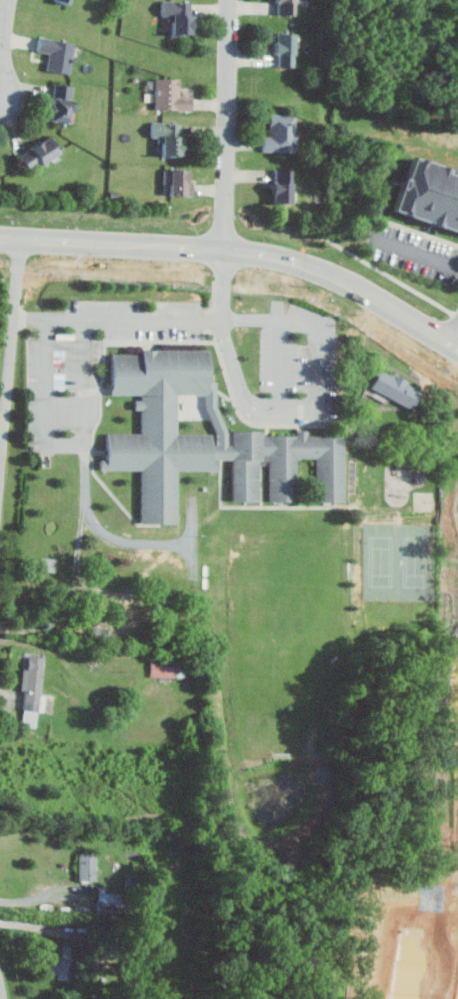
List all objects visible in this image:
building: (68, 2)
building: (290, 8)
building: (184, 17)
road: (4, 49)
building: (290, 51)
building: (60, 53)
building: (175, 95)
building: (66, 102)
road: (229, 124)
building: (284, 133)
building: (173, 136)
building: (44, 153)
building: (185, 181)
building: (287, 185)
building: (432, 190)
road: (168, 246)
road: (420, 251)
road: (225, 284)
road: (396, 308)
road: (119, 317)
road: (312, 326)
road: (454, 334)
road: (10, 361)
building: (394, 387)
road: (246, 395)
road: (2, 426)
road: (66, 442)
building: (293, 464)
road: (109, 532)
park: (399, 562)
building: (162, 666)
building: (31, 690)
building: (86, 865)
road: (39, 894)
building: (63, 963)
road: (5, 977)

